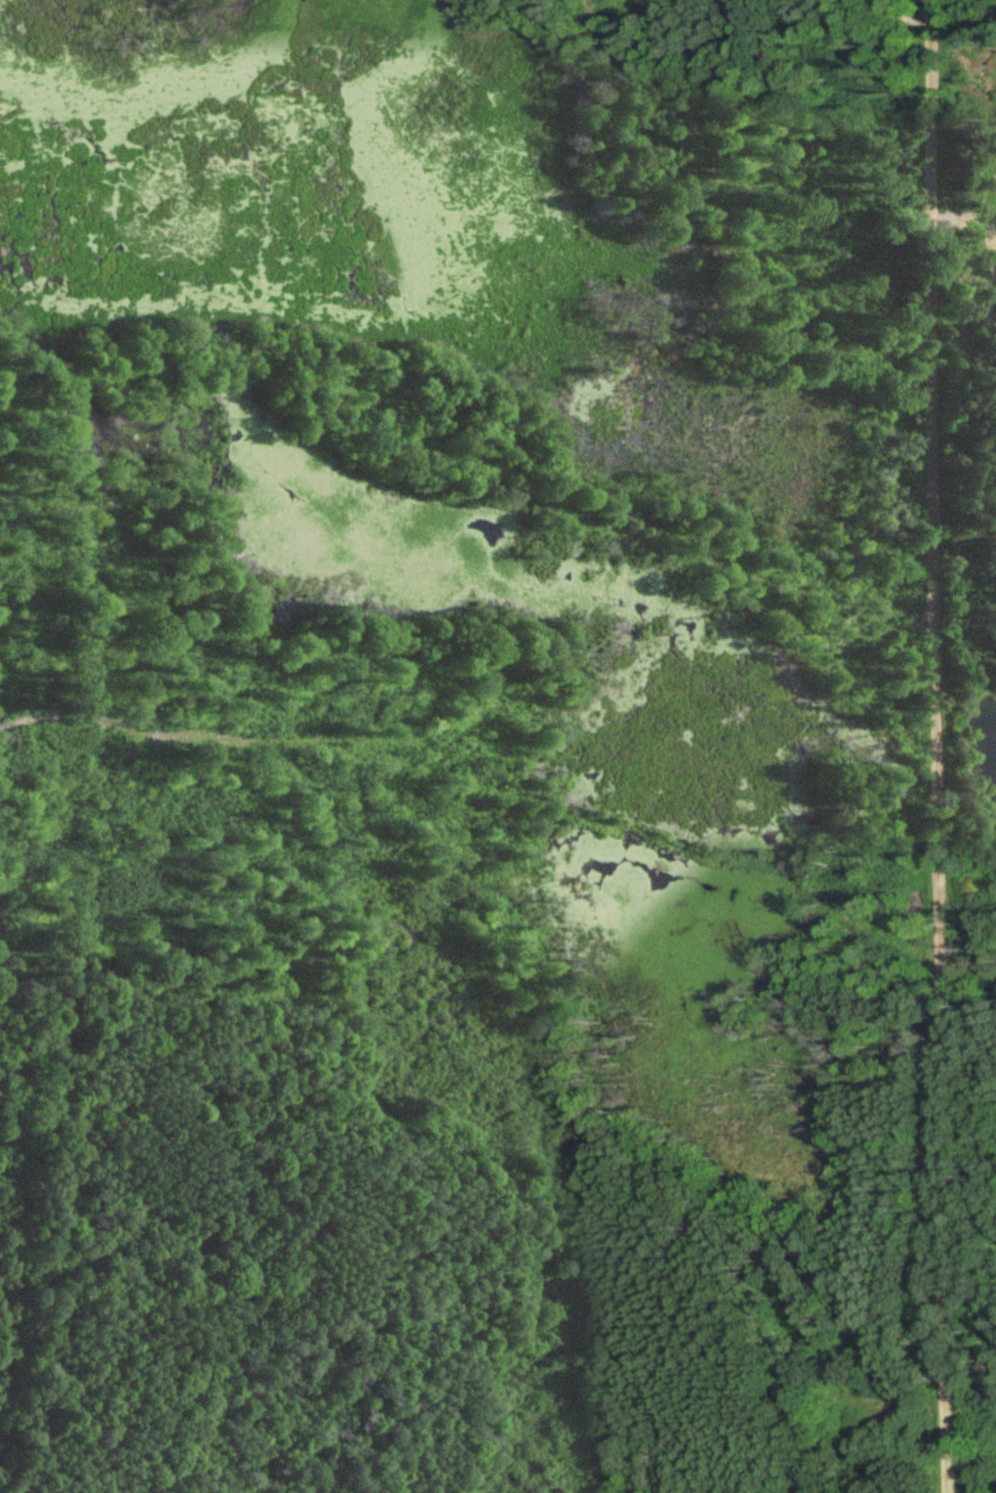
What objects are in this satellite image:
road: (924, 746)

